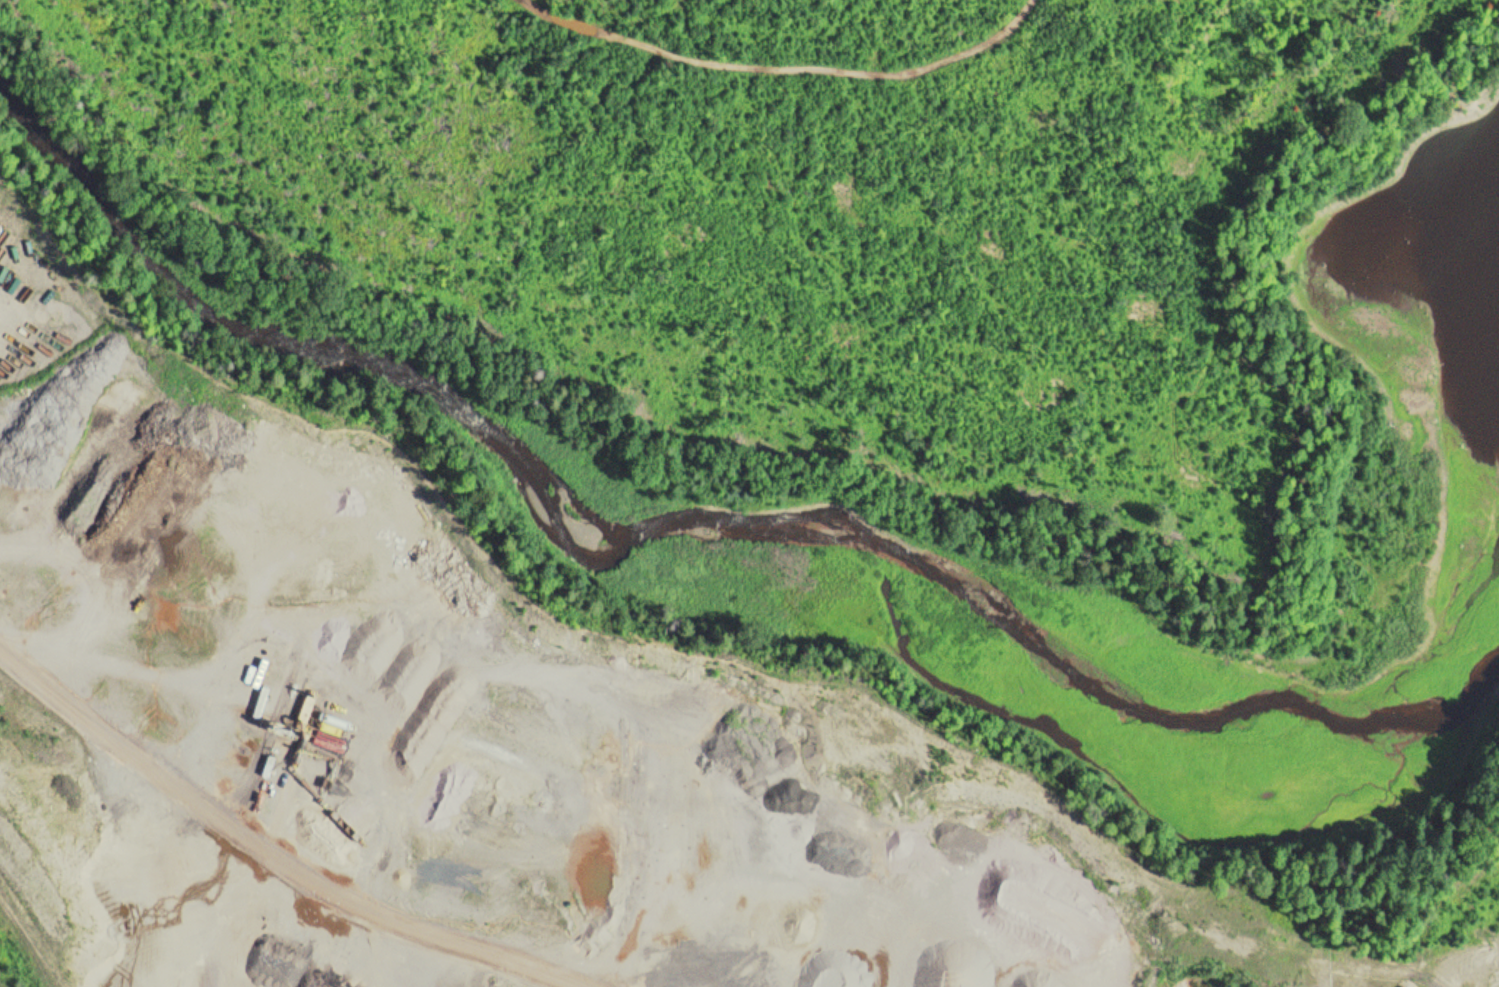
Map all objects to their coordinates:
road: (791, 74)
river: (379, 395)

